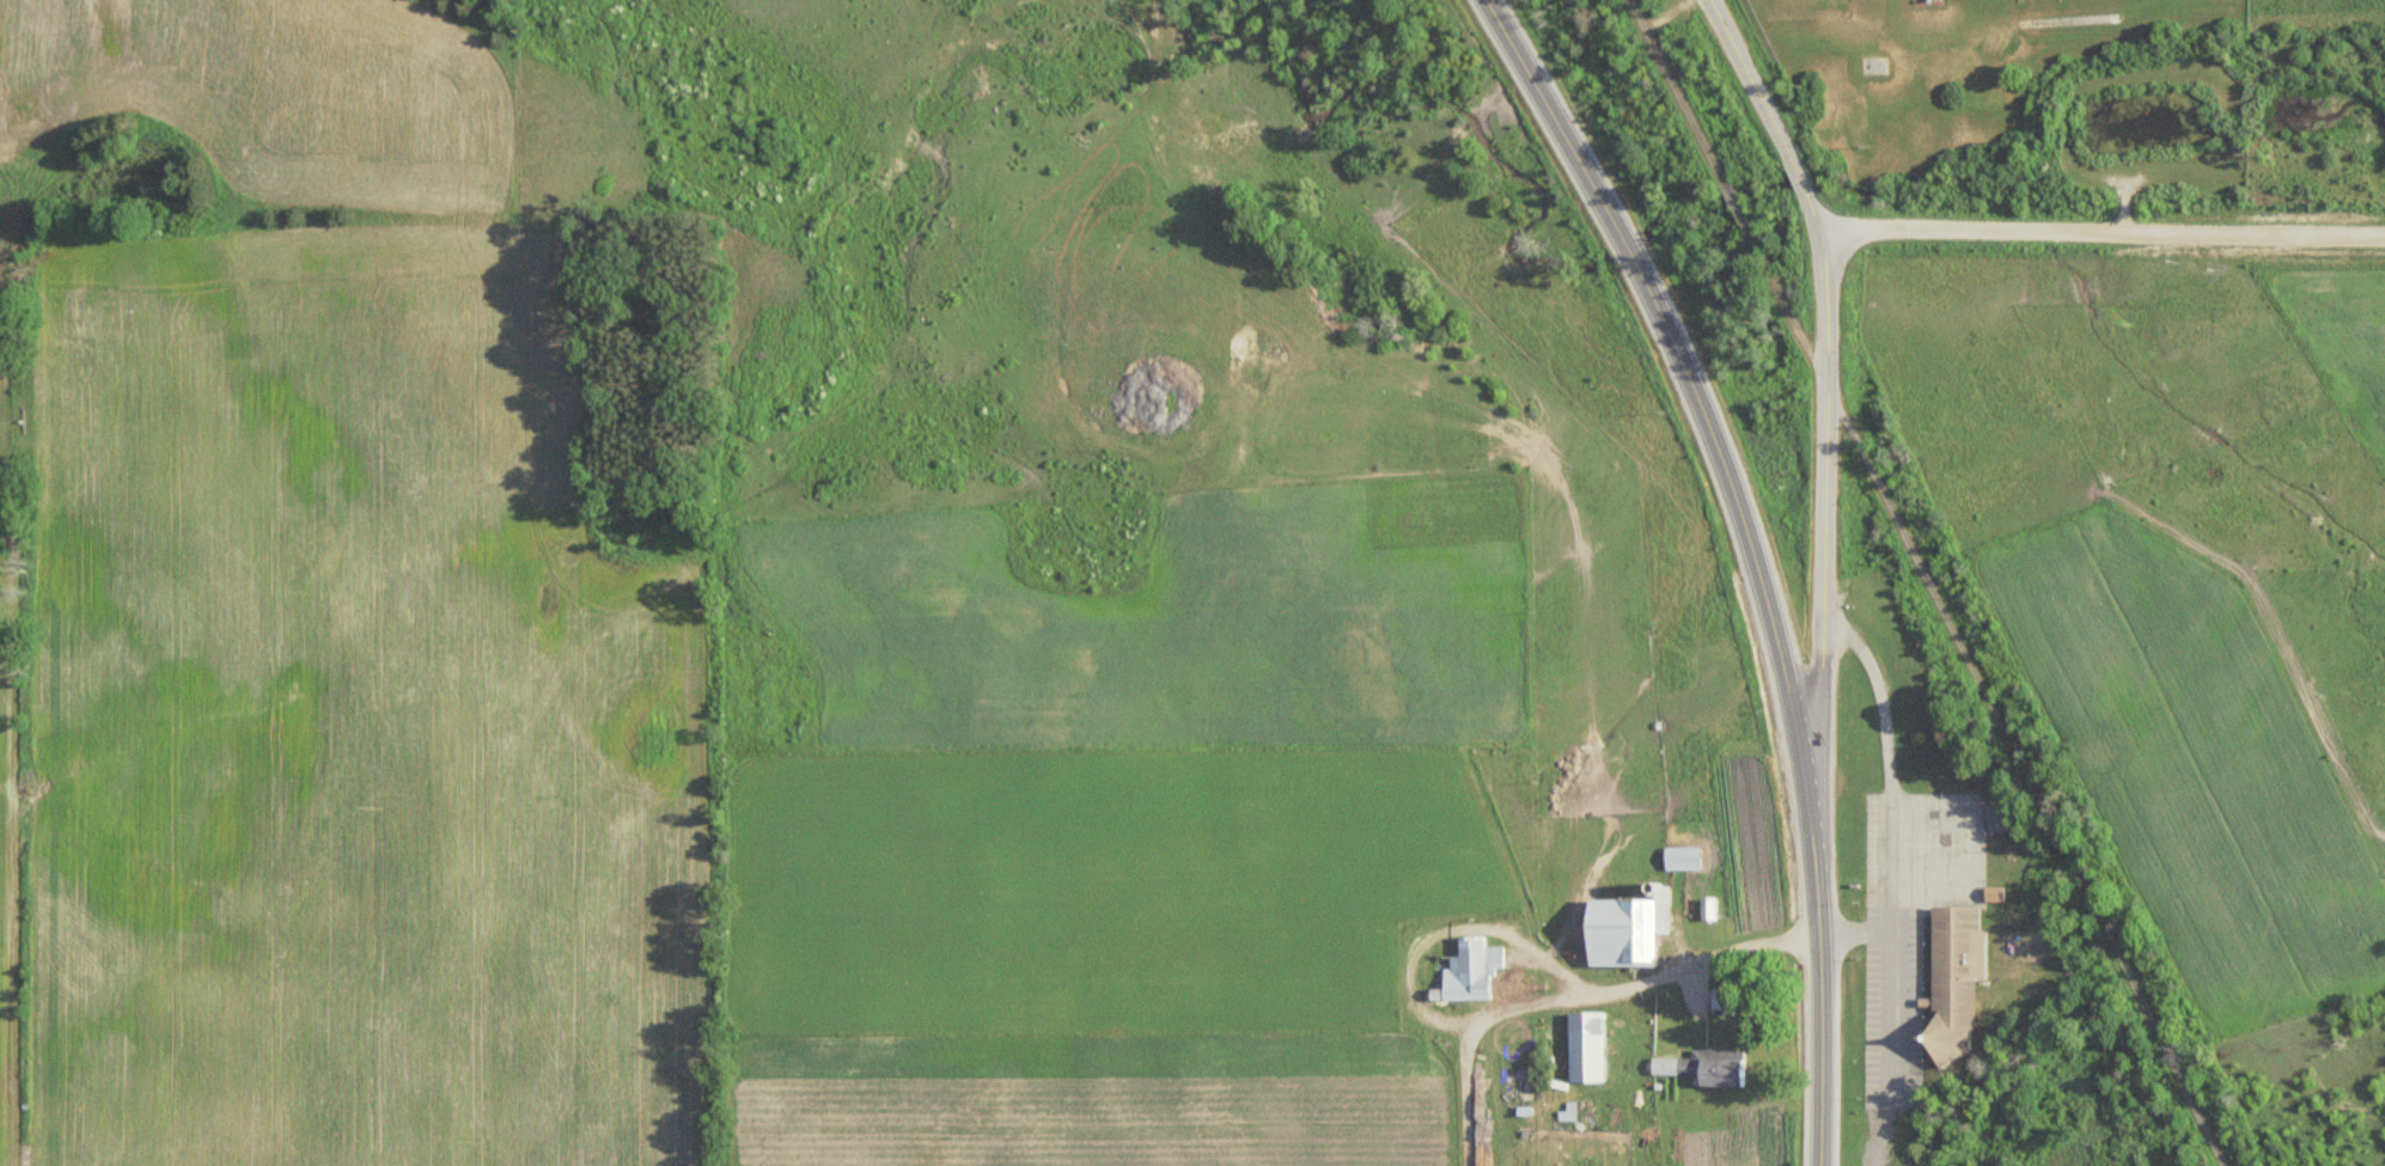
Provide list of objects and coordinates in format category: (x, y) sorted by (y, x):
road: (1816, 0)
road: (1666, 14)
road: (1737, 45)
building: (1872, 65)
road: (2100, 227)
road: (1824, 433)
road: (1751, 556)
road: (1925, 584)
building: (1678, 859)
building: (1622, 929)
building: (1463, 975)
building: (1947, 982)
building: (1581, 1048)
building: (1701, 1068)

